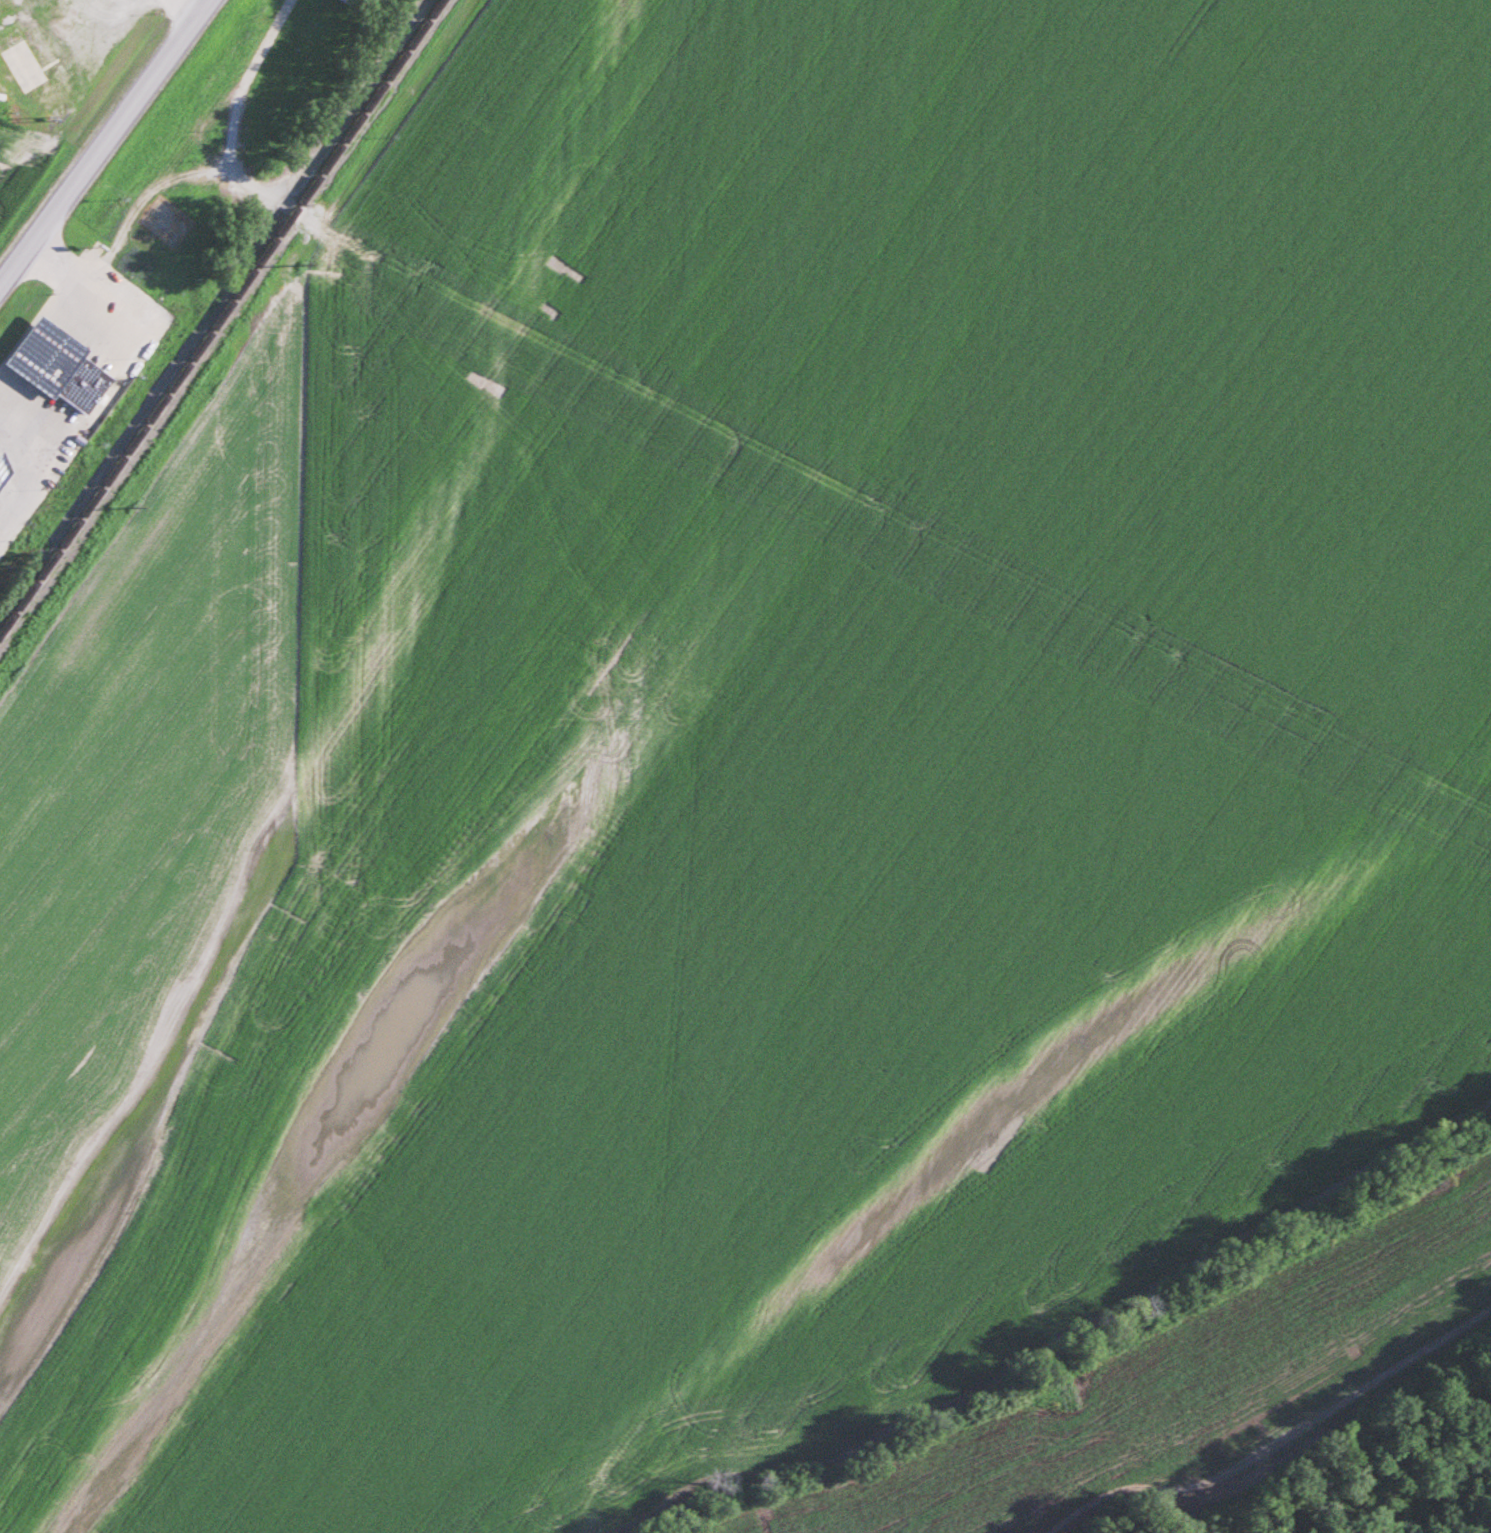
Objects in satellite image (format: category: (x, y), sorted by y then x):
road: (104, 141)
railway: (220, 316)

